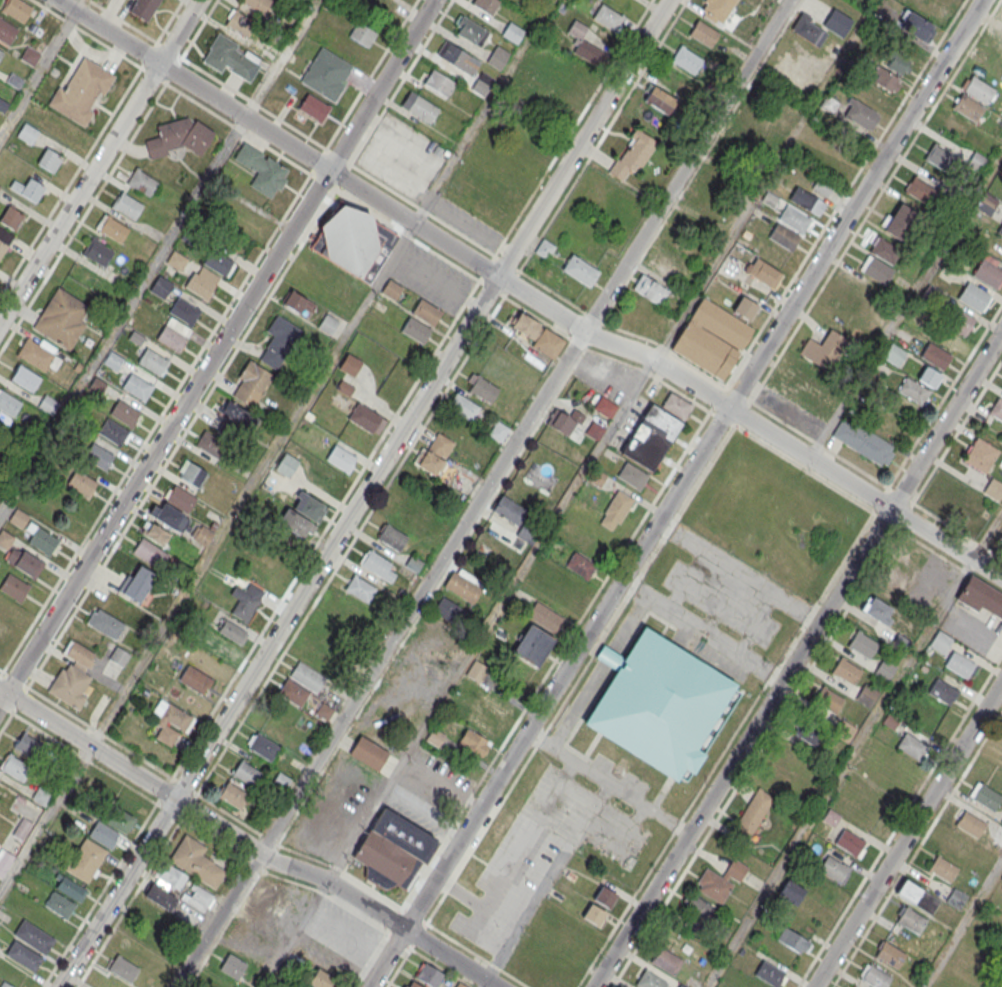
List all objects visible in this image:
building: (258, 5)
building: (486, 5)
road: (80, 6)
building: (143, 8)
building: (718, 8)
building: (17, 9)
building: (608, 17)
building: (837, 22)
building: (241, 24)
building: (916, 25)
building: (808, 30)
building: (6, 31)
road: (179, 32)
building: (470, 32)
building: (512, 33)
building: (703, 33)
building: (362, 35)
road: (99, 41)
building: (1, 53)
building: (589, 53)
building: (30, 56)
building: (498, 57)
building: (231, 58)
building: (457, 58)
building: (688, 60)
building: (898, 63)
road: (38, 73)
building: (326, 73)
road: (370, 74)
building: (888, 81)
road: (400, 82)
building: (438, 83)
building: (483, 83)
building: (978, 89)
building: (81, 91)
building: (877, 98)
building: (660, 99)
building: (829, 103)
building: (967, 107)
building: (314, 108)
building: (421, 109)
building: (859, 114)
building: (955, 123)
road: (238, 128)
building: (27, 132)
building: (179, 137)
building: (633, 155)
building: (941, 158)
building: (49, 160)
building: (977, 161)
building: (261, 169)
road: (70, 182)
building: (142, 182)
building: (822, 186)
building: (33, 190)
building: (919, 190)
road: (80, 193)
road: (844, 193)
building: (804, 199)
road: (875, 201)
building: (127, 206)
building: (11, 218)
road: (83, 218)
building: (793, 218)
building: (900, 220)
building: (114, 229)
building: (1000, 230)
building: (783, 236)
building: (353, 241)
building: (2, 247)
building: (544, 249)
building: (886, 250)
building: (98, 252)
building: (176, 260)
building: (218, 262)
road: (487, 268)
building: (875, 270)
building: (580, 271)
building: (764, 272)
building: (987, 274)
parking lot: (431, 278)
building: (199, 285)
building: (161, 287)
building: (392, 289)
building: (650, 290)
road: (526, 295)
building: (973, 298)
building: (298, 303)
building: (183, 311)
road: (121, 312)
building: (426, 312)
building: (62, 318)
building: (960, 322)
building: (328, 324)
building: (523, 324)
building: (415, 329)
building: (171, 338)
building: (711, 339)
building: (279, 341)
building: (548, 343)
building: (824, 349)
road: (217, 351)
building: (894, 354)
building: (37, 355)
building: (935, 356)
building: (113, 360)
building: (152, 361)
building: (350, 365)
building: (806, 371)
building: (928, 377)
building: (25, 378)
road: (719, 383)
building: (251, 384)
building: (137, 386)
road: (212, 387)
building: (483, 388)
building: (913, 391)
building: (9, 403)
building: (48, 404)
building: (677, 405)
building: (463, 406)
road: (701, 406)
building: (605, 407)
building: (997, 409)
building: (124, 413)
building: (238, 415)
building: (366, 418)
building: (565, 421)
road: (156, 422)
building: (228, 430)
building: (595, 430)
building: (113, 431)
building: (498, 431)
building: (650, 439)
building: (863, 443)
building: (210, 444)
road: (278, 448)
building: (434, 454)
building: (97, 455)
building: (980, 455)
building: (341, 458)
building: (286, 465)
building: (191, 473)
building: (632, 476)
building: (82, 484)
building: (993, 489)
road: (364, 493)
road: (483, 493)
road: (675, 493)
building: (180, 498)
building: (509, 510)
building: (615, 510)
building: (167, 515)
building: (301, 516)
building: (18, 518)
building: (155, 533)
building: (202, 534)
building: (391, 536)
building: (44, 540)
road: (317, 542)
building: (149, 553)
building: (23, 561)
building: (378, 565)
building: (580, 566)
road: (741, 569)
building: (136, 583)
building: (463, 585)
building: (14, 587)
building: (361, 588)
building: (980, 596)
building: (243, 603)
building: (449, 610)
building: (878, 610)
building: (545, 616)
building: (105, 623)
building: (6, 632)
building: (232, 632)
road: (702, 632)
building: (940, 642)
building: (533, 645)
building: (863, 645)
building: (219, 647)
building: (119, 656)
road: (797, 659)
building: (959, 664)
building: (846, 670)
building: (476, 671)
road: (1, 673)
building: (73, 676)
building: (307, 677)
building: (194, 679)
building: (943, 691)
building: (293, 692)
road: (568, 694)
building: (867, 696)
building: (829, 701)
building: (455, 703)
building: (660, 704)
building: (495, 707)
road: (13, 709)
building: (170, 722)
building: (484, 725)
road: (99, 732)
building: (807, 733)
building: (435, 739)
building: (473, 743)
building: (28, 746)
building: (912, 746)
building: (264, 747)
road: (565, 751)
building: (368, 752)
building: (15, 767)
building: (247, 773)
road: (842, 774)
road: (582, 792)
building: (232, 794)
building: (40, 796)
building: (986, 796)
road: (634, 797)
building: (753, 813)
road: (149, 816)
building: (831, 817)
building: (116, 821)
road: (899, 821)
building: (1001, 821)
building: (970, 824)
building: (22, 830)
building: (998, 832)
road: (908, 834)
building: (849, 841)
road: (246, 845)
building: (392, 847)
building: (955, 847)
road: (917, 849)
building: (85, 859)
parking lot: (528, 860)
building: (4, 862)
building: (196, 863)
building: (832, 868)
building: (943, 869)
building: (170, 879)
road: (291, 880)
building: (720, 880)
building: (1001, 880)
building: (69, 887)
building: (791, 893)
building: (160, 896)
building: (917, 896)
building: (604, 897)
building: (956, 898)
building: (199, 900)
building: (59, 904)
building: (696, 913)
building: (594, 915)
building: (911, 920)
road: (963, 924)
road: (296, 934)
building: (33, 936)
building: (792, 940)
building: (24, 954)
road: (477, 954)
building: (890, 954)
building: (667, 961)
building: (232, 965)
building: (123, 968)
building: (769, 973)
building: (429, 974)
building: (875, 977)
building: (558, 979)
building: (323, 980)
building: (650, 980)
road: (485, 983)
building: (5, 984)
building: (459, 984)
building: (413, 985)
building: (306, 986)
building: (681, 986)
building: (853, 986)

